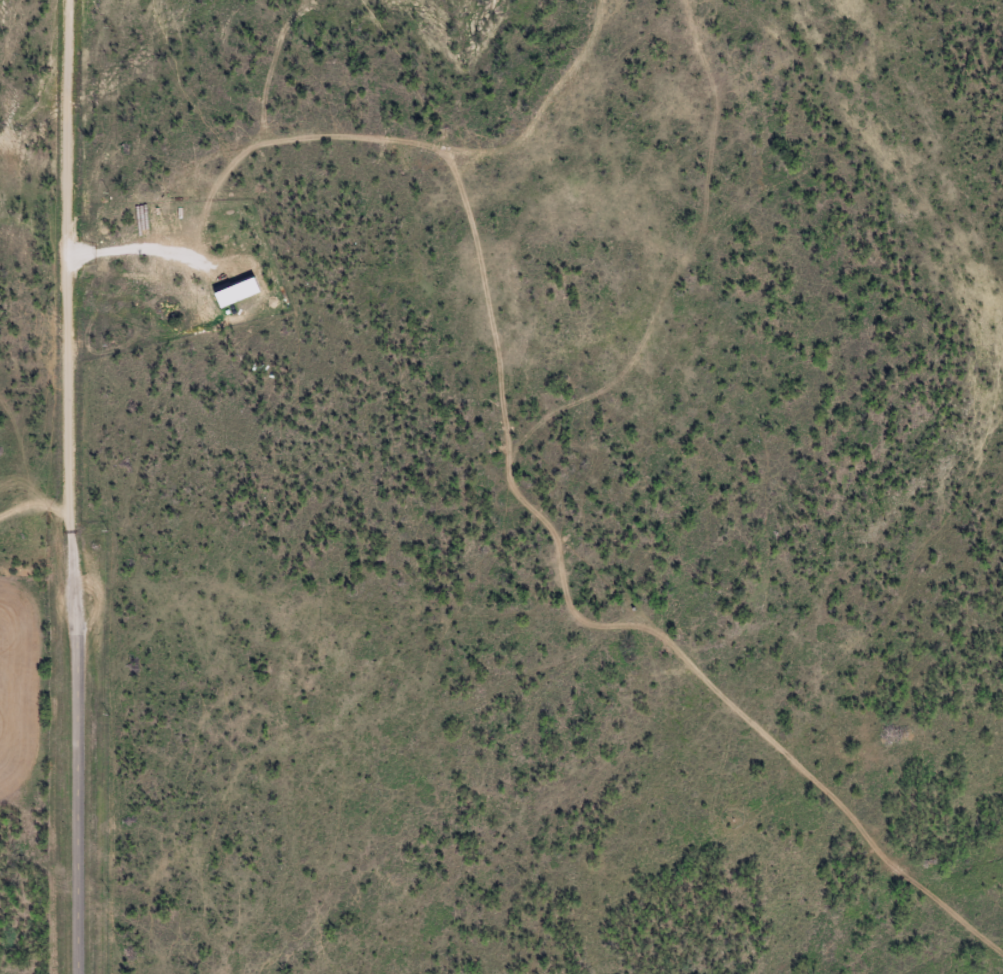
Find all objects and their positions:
road: (56, 257)
road: (34, 517)
road: (70, 744)

